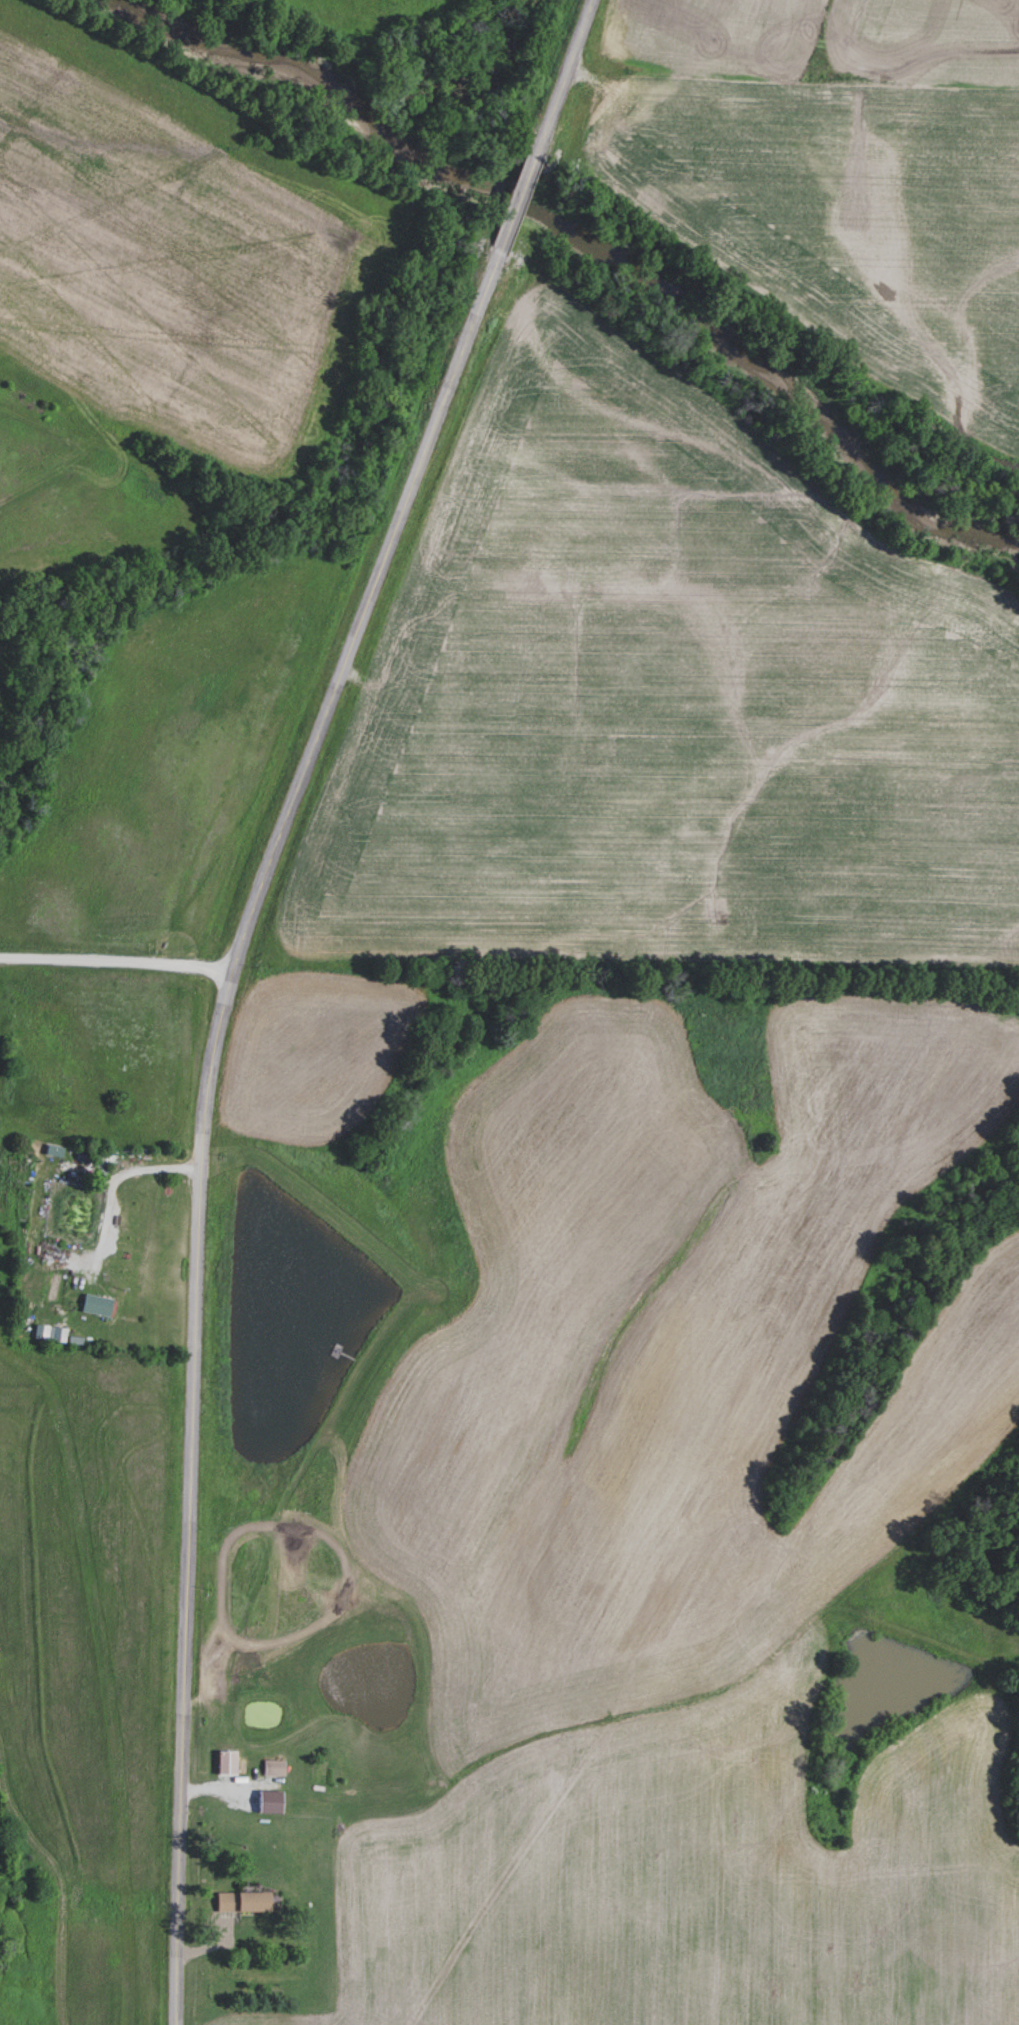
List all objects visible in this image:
road: (115, 959)
road: (227, 981)
road: (128, 1169)
building: (230, 1761)
building: (275, 1766)
building: (273, 1801)
building: (245, 1901)

